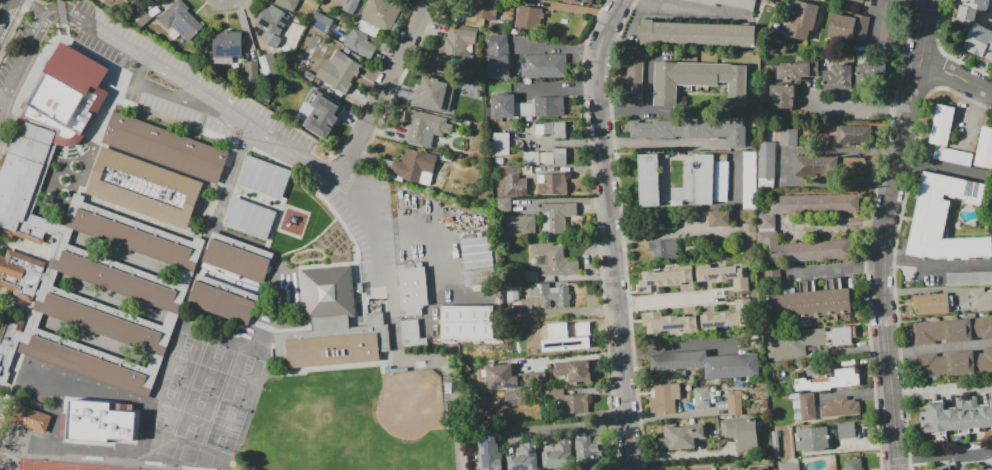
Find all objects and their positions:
building: (580, 1)
building: (858, 1)
building: (727, 2)
building: (287, 3)
road: (921, 3)
road: (30, 4)
road: (58, 4)
building: (343, 4)
building: (970, 8)
road: (694, 10)
building: (480, 11)
road: (6, 13)
building: (380, 13)
road: (991, 16)
road: (60, 17)
building: (527, 18)
road: (236, 19)
building: (180, 20)
road: (875, 20)
building: (270, 21)
building: (321, 21)
building: (802, 21)
building: (890, 21)
road: (13, 26)
building: (848, 27)
building: (366, 28)
building: (697, 33)
building: (465, 37)
building: (359, 42)
building: (980, 42)
building: (227, 44)
road: (941, 52)
road: (20, 61)
building: (268, 65)
building: (543, 65)
building: (497, 66)
road: (939, 69)
building: (343, 70)
building: (796, 70)
road: (372, 71)
building: (251, 72)
building: (869, 73)
road: (392, 75)
road: (957, 77)
road: (402, 78)
building: (838, 78)
road: (185, 79)
building: (634, 80)
building: (698, 80)
building: (440, 89)
building: (781, 96)
road: (178, 98)
road: (648, 104)
building: (502, 106)
road: (862, 106)
road: (136, 107)
building: (541, 107)
building: (323, 112)
parking lot: (202, 117)
building: (424, 125)
building: (559, 129)
building: (691, 130)
building: (852, 134)
building: (789, 137)
building: (948, 138)
building: (500, 143)
road: (661, 143)
building: (165, 146)
building: (986, 149)
building: (559, 155)
building: (765, 160)
road: (348, 163)
building: (814, 165)
building: (414, 166)
building: (265, 176)
building: (703, 178)
building: (647, 180)
building: (514, 182)
building: (22, 183)
building: (554, 184)
building: (142, 188)
road: (350, 190)
road: (328, 195)
building: (814, 203)
building: (502, 205)
building: (991, 207)
building: (558, 216)
building: (248, 218)
building: (719, 218)
building: (764, 220)
building: (930, 220)
building: (517, 226)
road: (375, 229)
road: (597, 232)
road: (610, 232)
road: (621, 232)
road: (867, 232)
road: (885, 232)
road: (667, 233)
road: (429, 237)
building: (748, 237)
road: (893, 245)
building: (663, 248)
building: (806, 251)
building: (554, 259)
building: (476, 260)
building: (236, 261)
road: (936, 264)
road: (833, 268)
building: (20, 274)
building: (529, 275)
building: (726, 275)
building: (983, 277)
building: (662, 278)
building: (412, 287)
building: (551, 294)
building: (157, 298)
building: (805, 298)
building: (979, 299)
road: (667, 301)
building: (220, 304)
building: (930, 304)
building: (728, 316)
building: (466, 320)
building: (331, 323)
building: (668, 323)
building: (539, 329)
building: (968, 330)
building: (408, 333)
building: (928, 333)
building: (571, 335)
building: (805, 340)
building: (8, 345)
road: (675, 345)
road: (939, 348)
building: (960, 362)
building: (706, 364)
building: (930, 365)
building: (574, 371)
building: (502, 376)
building: (829, 380)
road: (938, 390)
building: (514, 398)
building: (701, 399)
building: (666, 400)
park: (409, 401)
building: (734, 402)
building: (569, 403)
building: (806, 405)
building: (840, 408)
building: (795, 410)
building: (24, 414)
building: (956, 415)
building: (100, 425)
road: (567, 425)
building: (846, 429)
building: (741, 432)
building: (681, 438)
building: (814, 438)
building: (784, 441)
building: (586, 449)
building: (487, 452)
road: (943, 454)
building: (558, 455)
building: (524, 458)
building: (853, 464)
building: (788, 466)
track: (61, 467)
building: (754, 468)
building: (938, 469)
building: (983, 469)

